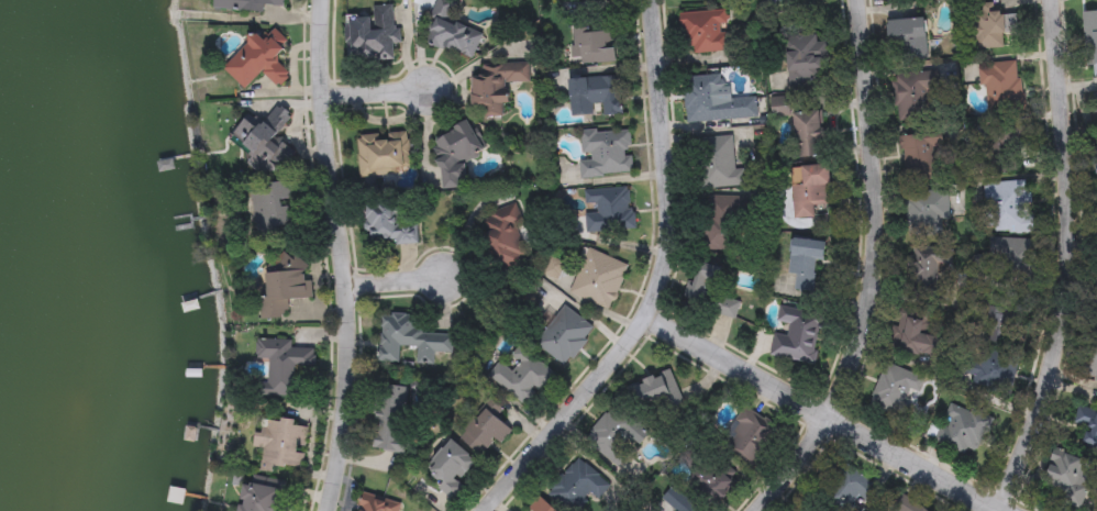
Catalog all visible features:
building: (884, 0)
building: (807, 1)
building: (246, 4)
building: (990, 30)
building: (450, 32)
building: (705, 34)
building: (372, 35)
building: (906, 38)
building: (595, 46)
building: (1092, 47)
building: (805, 60)
building: (257, 63)
building: (494, 87)
building: (1001, 87)
road: (372, 93)
building: (913, 95)
building: (596, 96)
building: (714, 101)
building: (806, 125)
building: (266, 142)
building: (1006, 149)
building: (606, 153)
building: (384, 154)
building: (454, 156)
building: (920, 156)
building: (720, 164)
building: (809, 190)
building: (277, 207)
building: (1008, 208)
building: (609, 210)
building: (926, 214)
building: (723, 224)
building: (390, 225)
building: (506, 235)
road: (333, 256)
road: (1061, 259)
building: (806, 262)
building: (1007, 264)
road: (867, 268)
building: (928, 270)
building: (598, 279)
road: (389, 281)
road: (657, 284)
building: (285, 285)
building: (710, 291)
building: (564, 337)
building: (796, 337)
building: (919, 337)
building: (409, 340)
building: (994, 349)
building: (285, 366)
building: (520, 377)
building: (654, 390)
building: (895, 392)
road: (813, 410)
building: (392, 419)
building: (1087, 424)
building: (961, 427)
building: (484, 433)
building: (613, 436)
building: (750, 438)
building: (282, 446)
building: (451, 468)
building: (1068, 474)
building: (578, 482)
building: (714, 484)
building: (850, 492)
building: (263, 499)
building: (678, 501)
building: (375, 506)
building: (541, 507)
road: (984, 509)
road: (987, 509)

